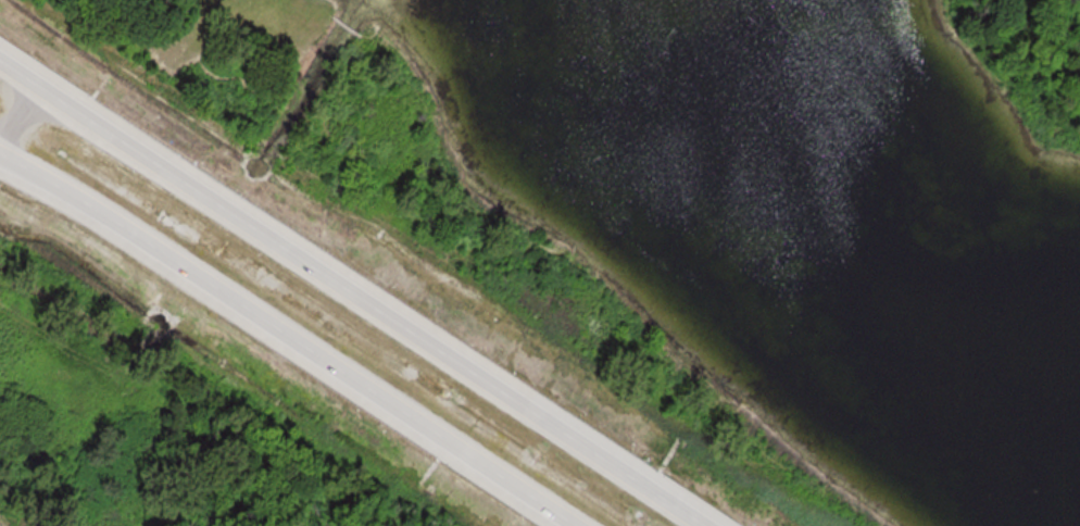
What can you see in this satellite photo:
road: (309, 7)
road: (346, 26)
road: (999, 76)
park: (721, 208)
road: (598, 284)
road: (353, 292)
road: (284, 339)

